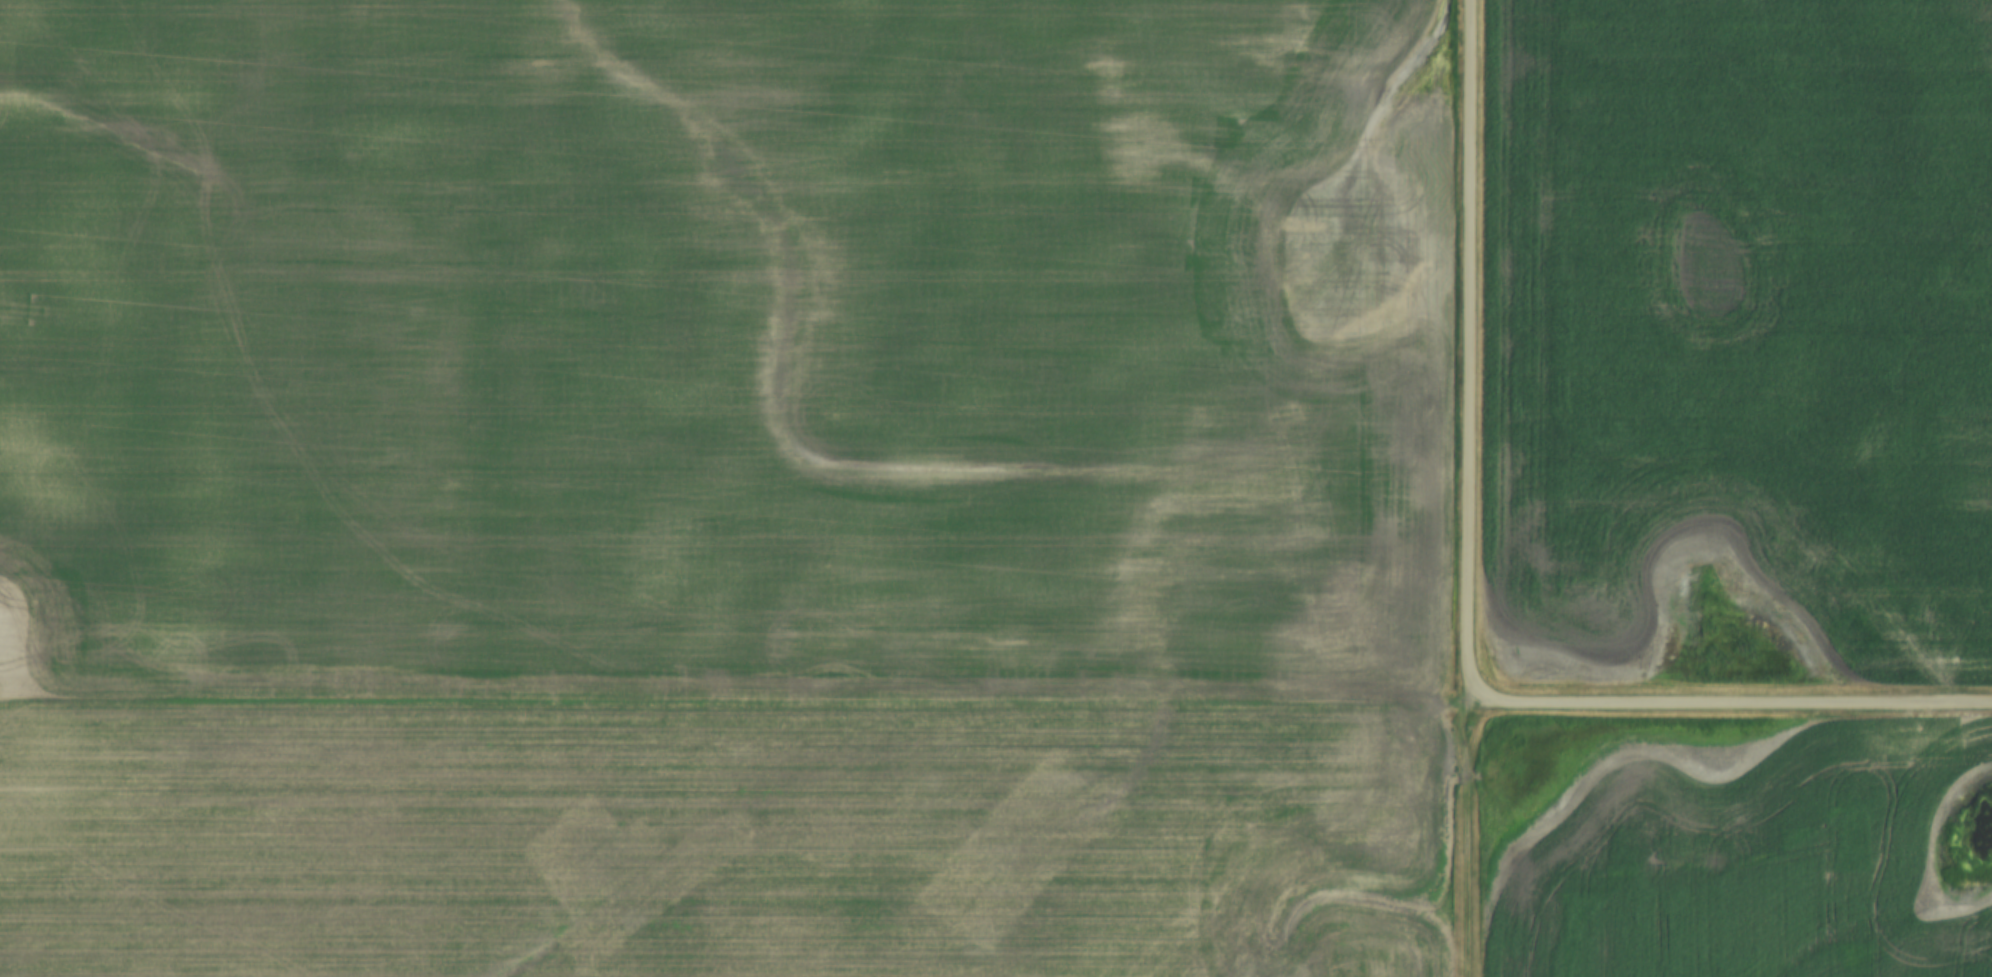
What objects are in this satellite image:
road: (1472, 351)
road: (1731, 705)
road: (1473, 839)

